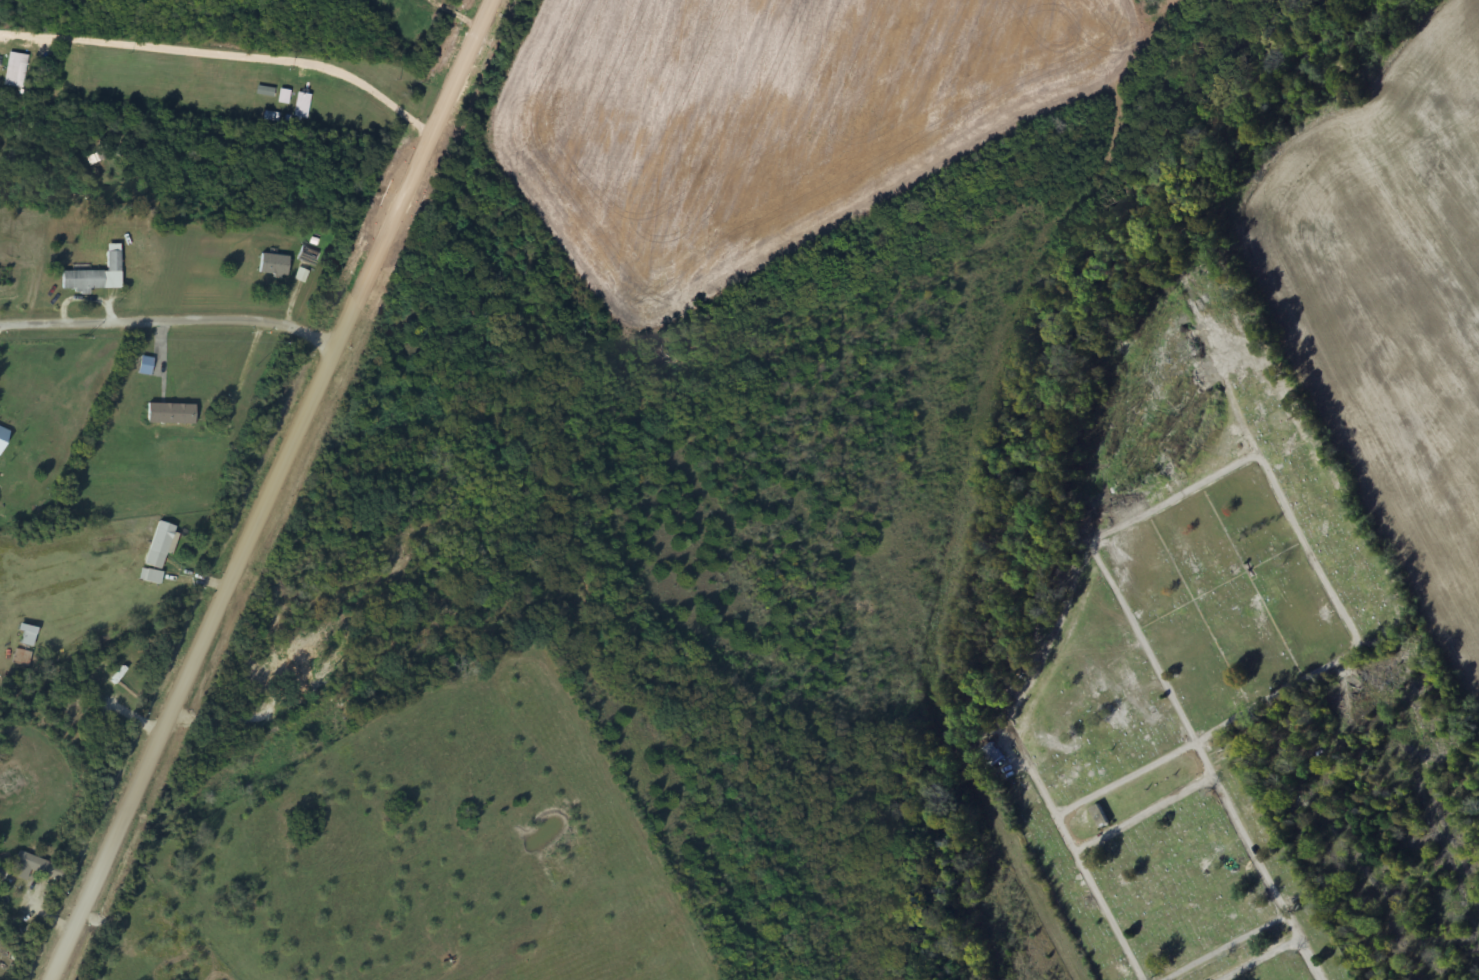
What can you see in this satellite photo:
road: (306, 66)
building: (17, 70)
building: (266, 91)
building: (285, 96)
building: (304, 105)
building: (113, 261)
building: (273, 265)
building: (81, 281)
road: (171, 321)
building: (169, 414)
road: (1254, 456)
road: (273, 490)
building: (159, 545)
building: (26, 635)
building: (21, 658)
building: (259, 678)
park: (1190, 705)
building: (94, 717)
building: (992, 755)
road: (1163, 758)
road: (1035, 775)
road: (1145, 813)
building: (1099, 817)
building: (35, 868)
building: (2, 872)
road: (1223, 946)
road: (1259, 958)

